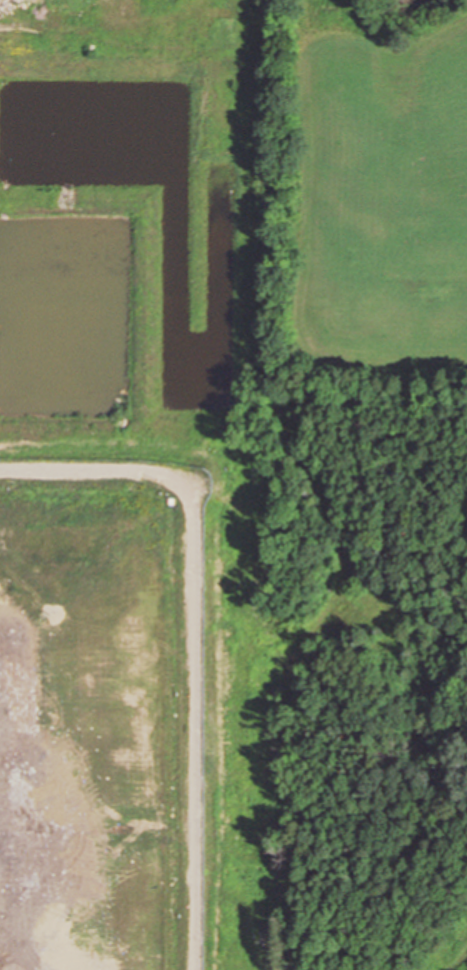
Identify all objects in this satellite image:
road: (245, 332)
landfill: (208, 539)

